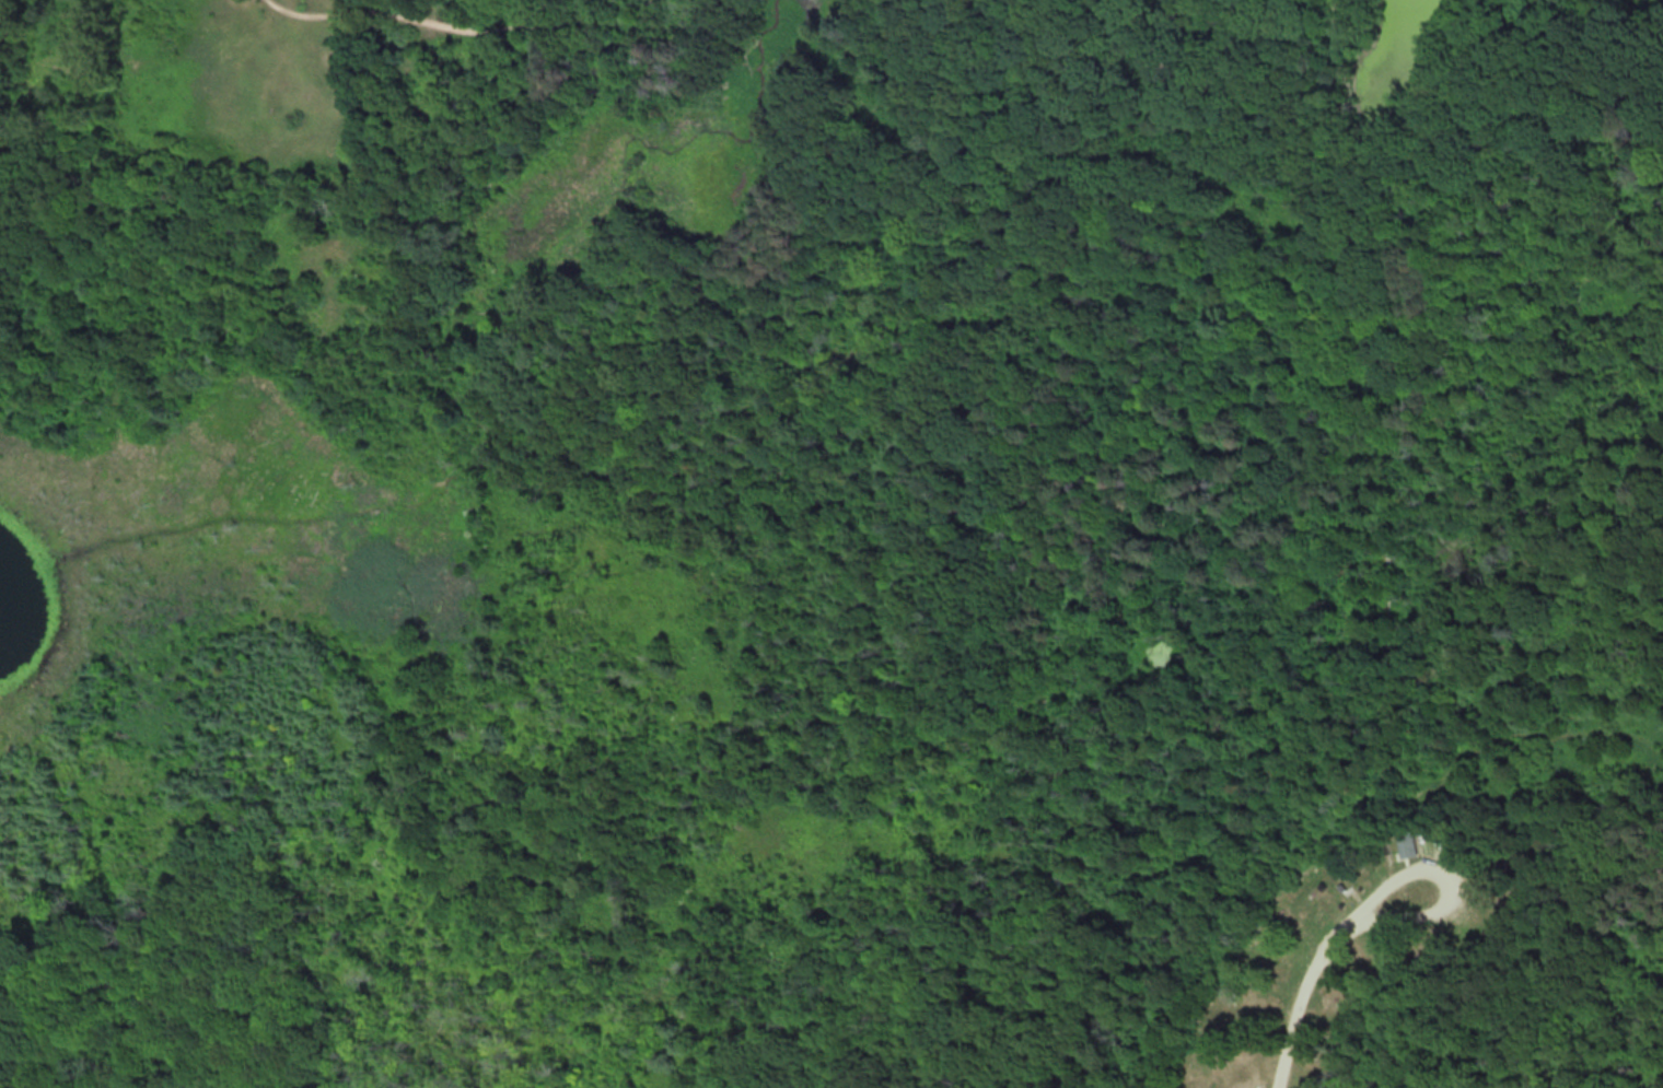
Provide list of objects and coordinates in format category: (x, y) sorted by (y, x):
park: (832, 543)
building: (1406, 839)
road: (1447, 878)
road: (1300, 996)

